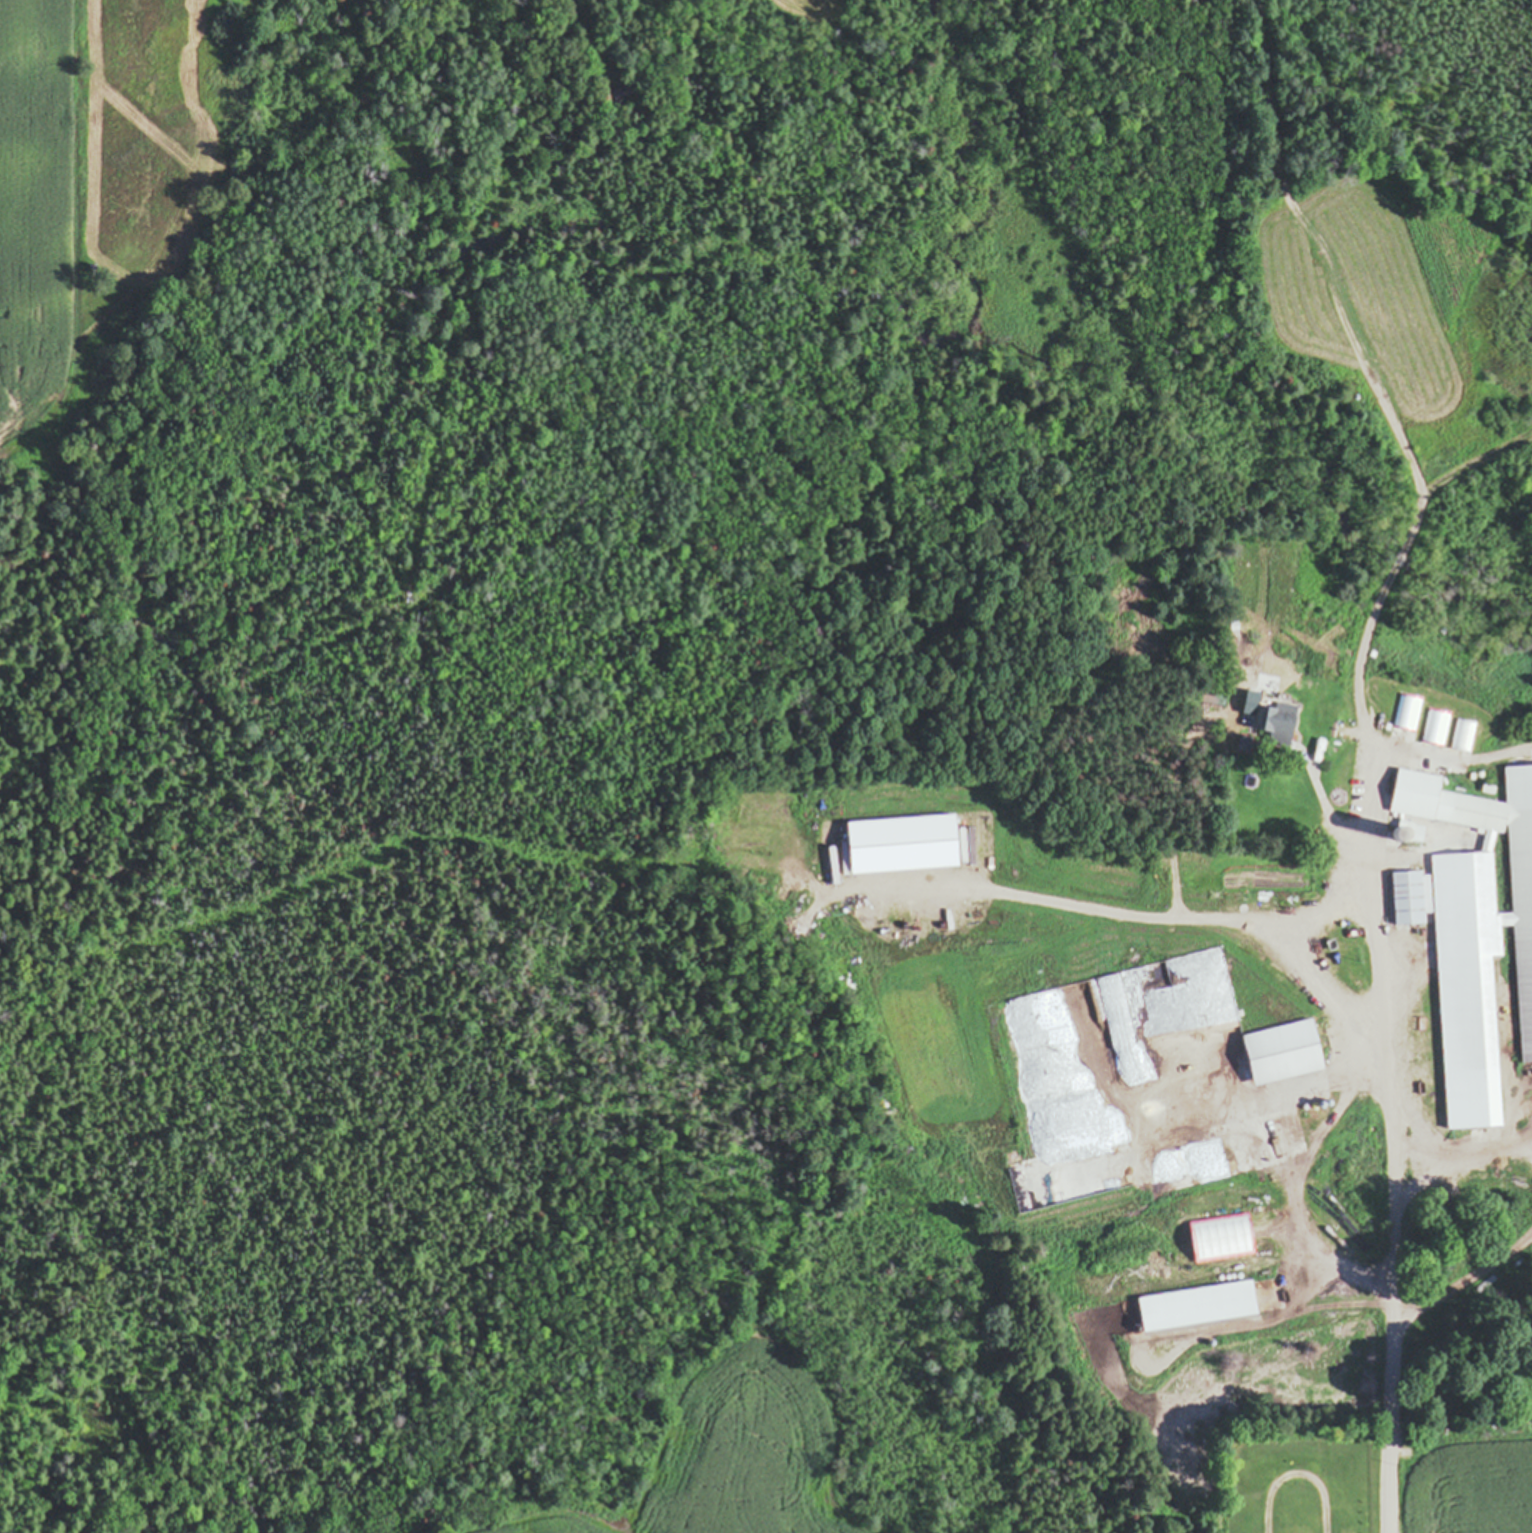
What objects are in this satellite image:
building: (1385, 694)
building: (1277, 720)
building: (1455, 742)
building: (995, 805)
building: (1454, 879)
building: (1413, 899)
building: (1523, 945)
building: (1459, 990)
building: (1284, 1053)
building: (1102, 1150)
road: (1388, 1415)

